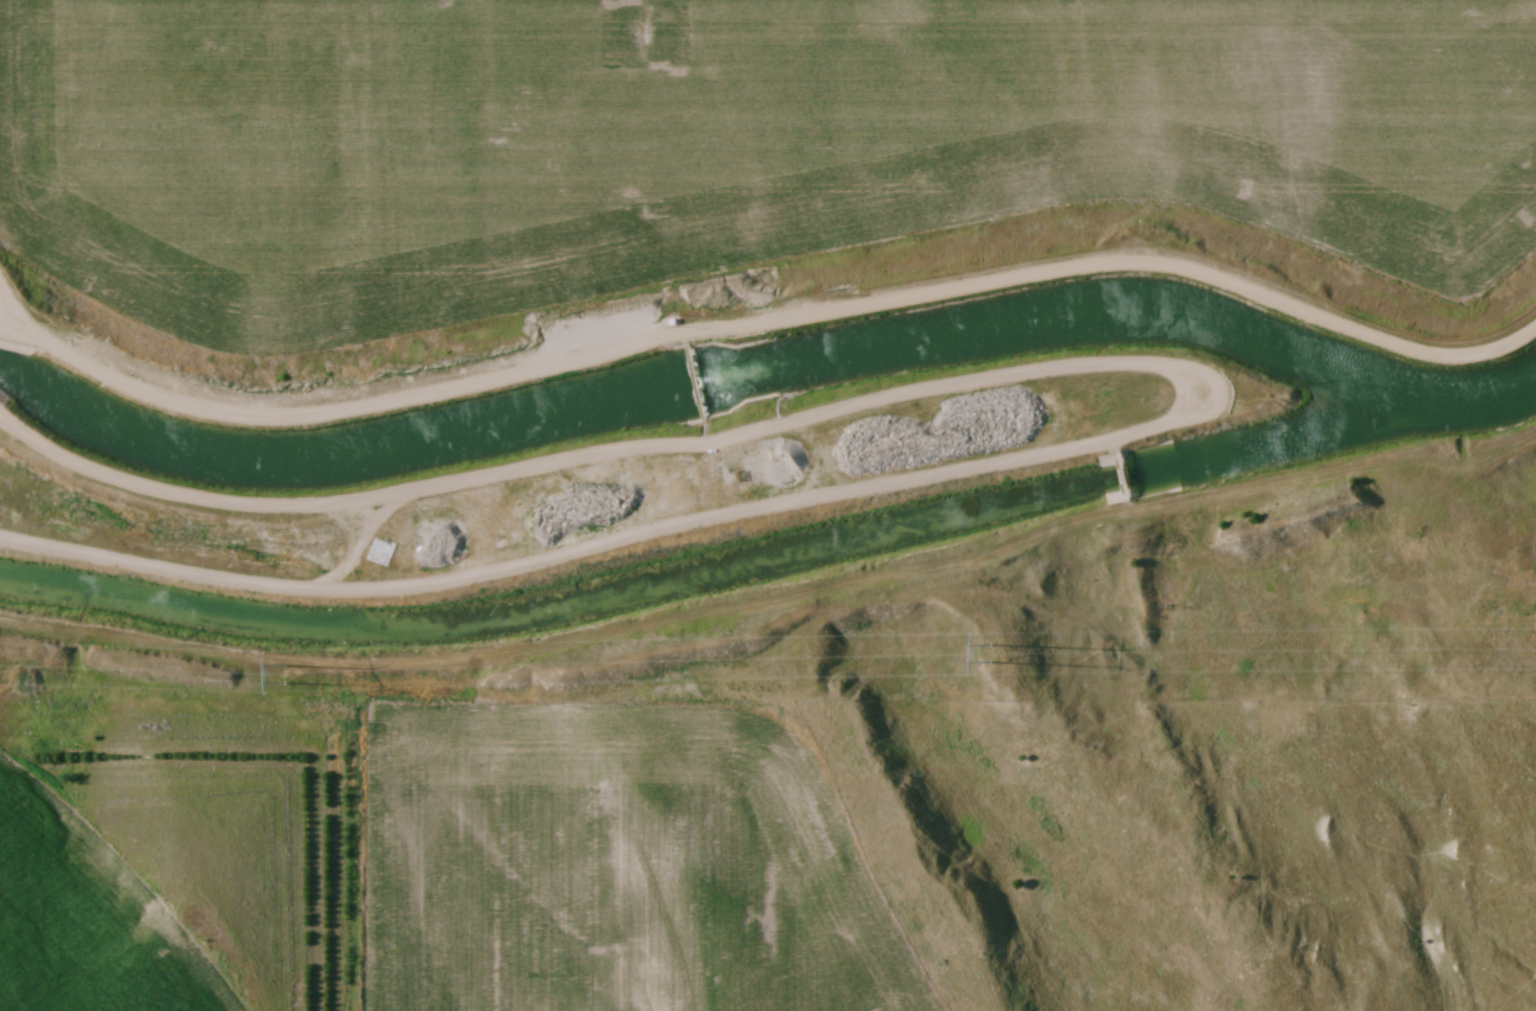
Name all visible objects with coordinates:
road: (12, 313)
road: (774, 323)
road: (1205, 379)
power tower: (989, 654)
power tower: (283, 675)

